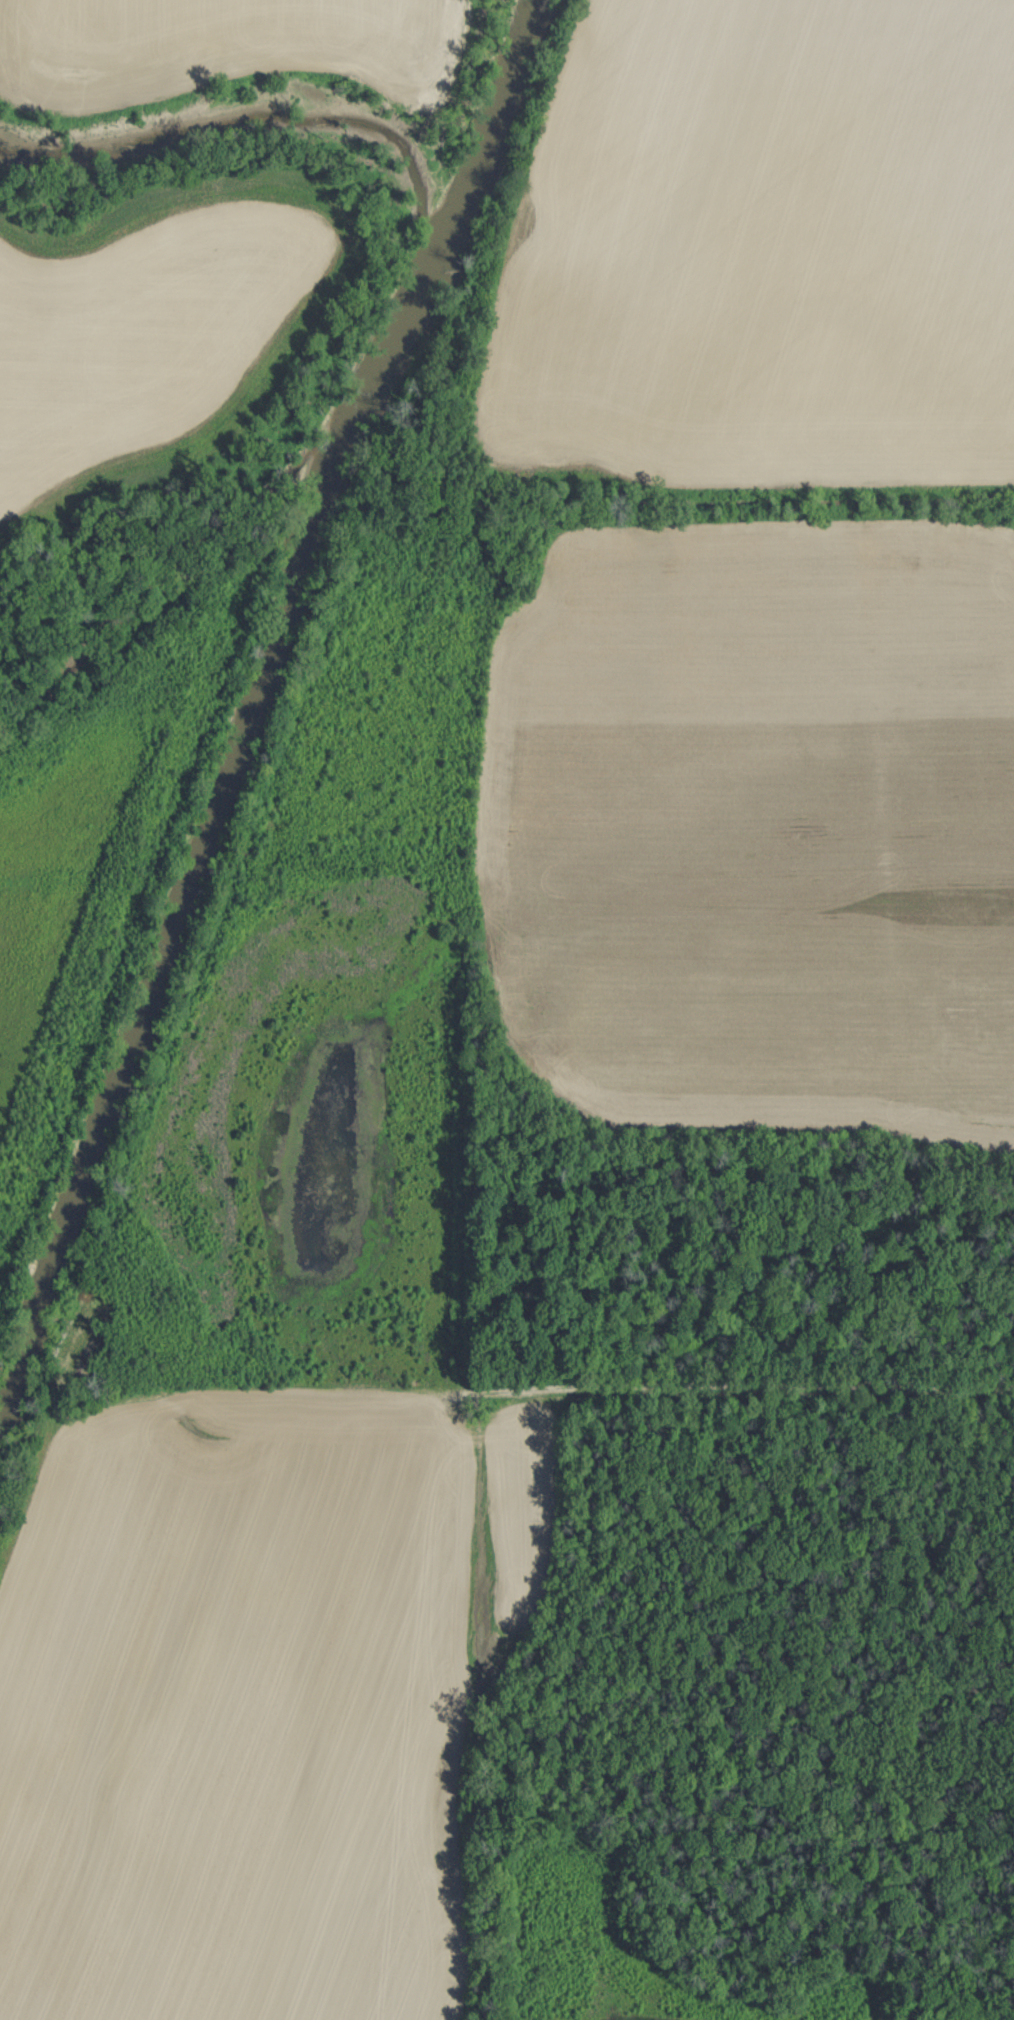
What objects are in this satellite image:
river: (415, 304)

